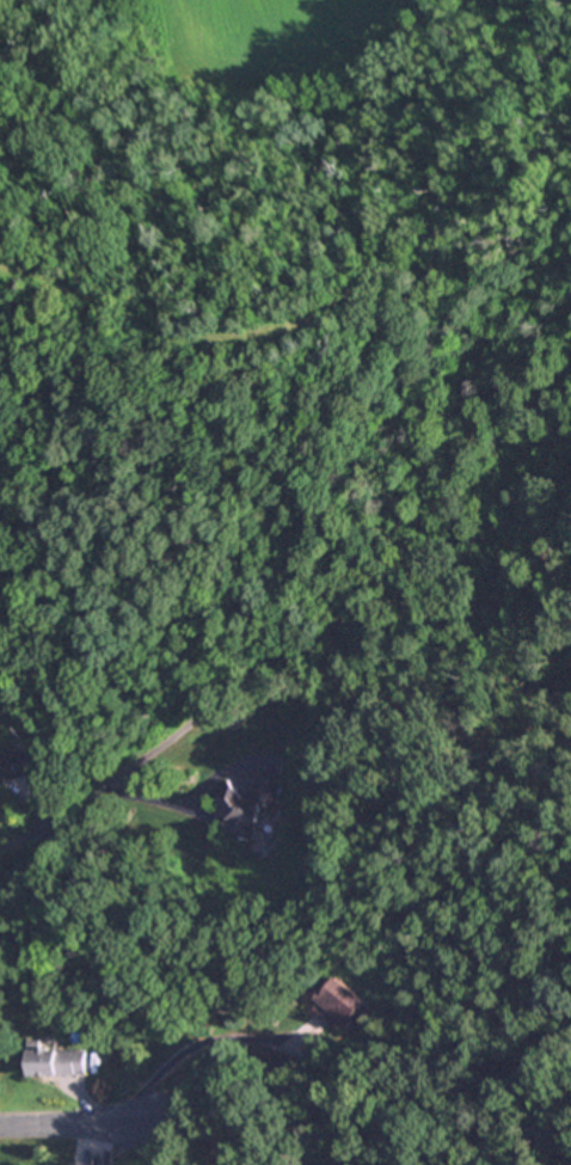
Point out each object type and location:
building: (12, 768)
road: (115, 795)
building: (250, 804)
road: (22, 836)
building: (338, 1000)
building: (60, 1062)
road: (75, 1124)

